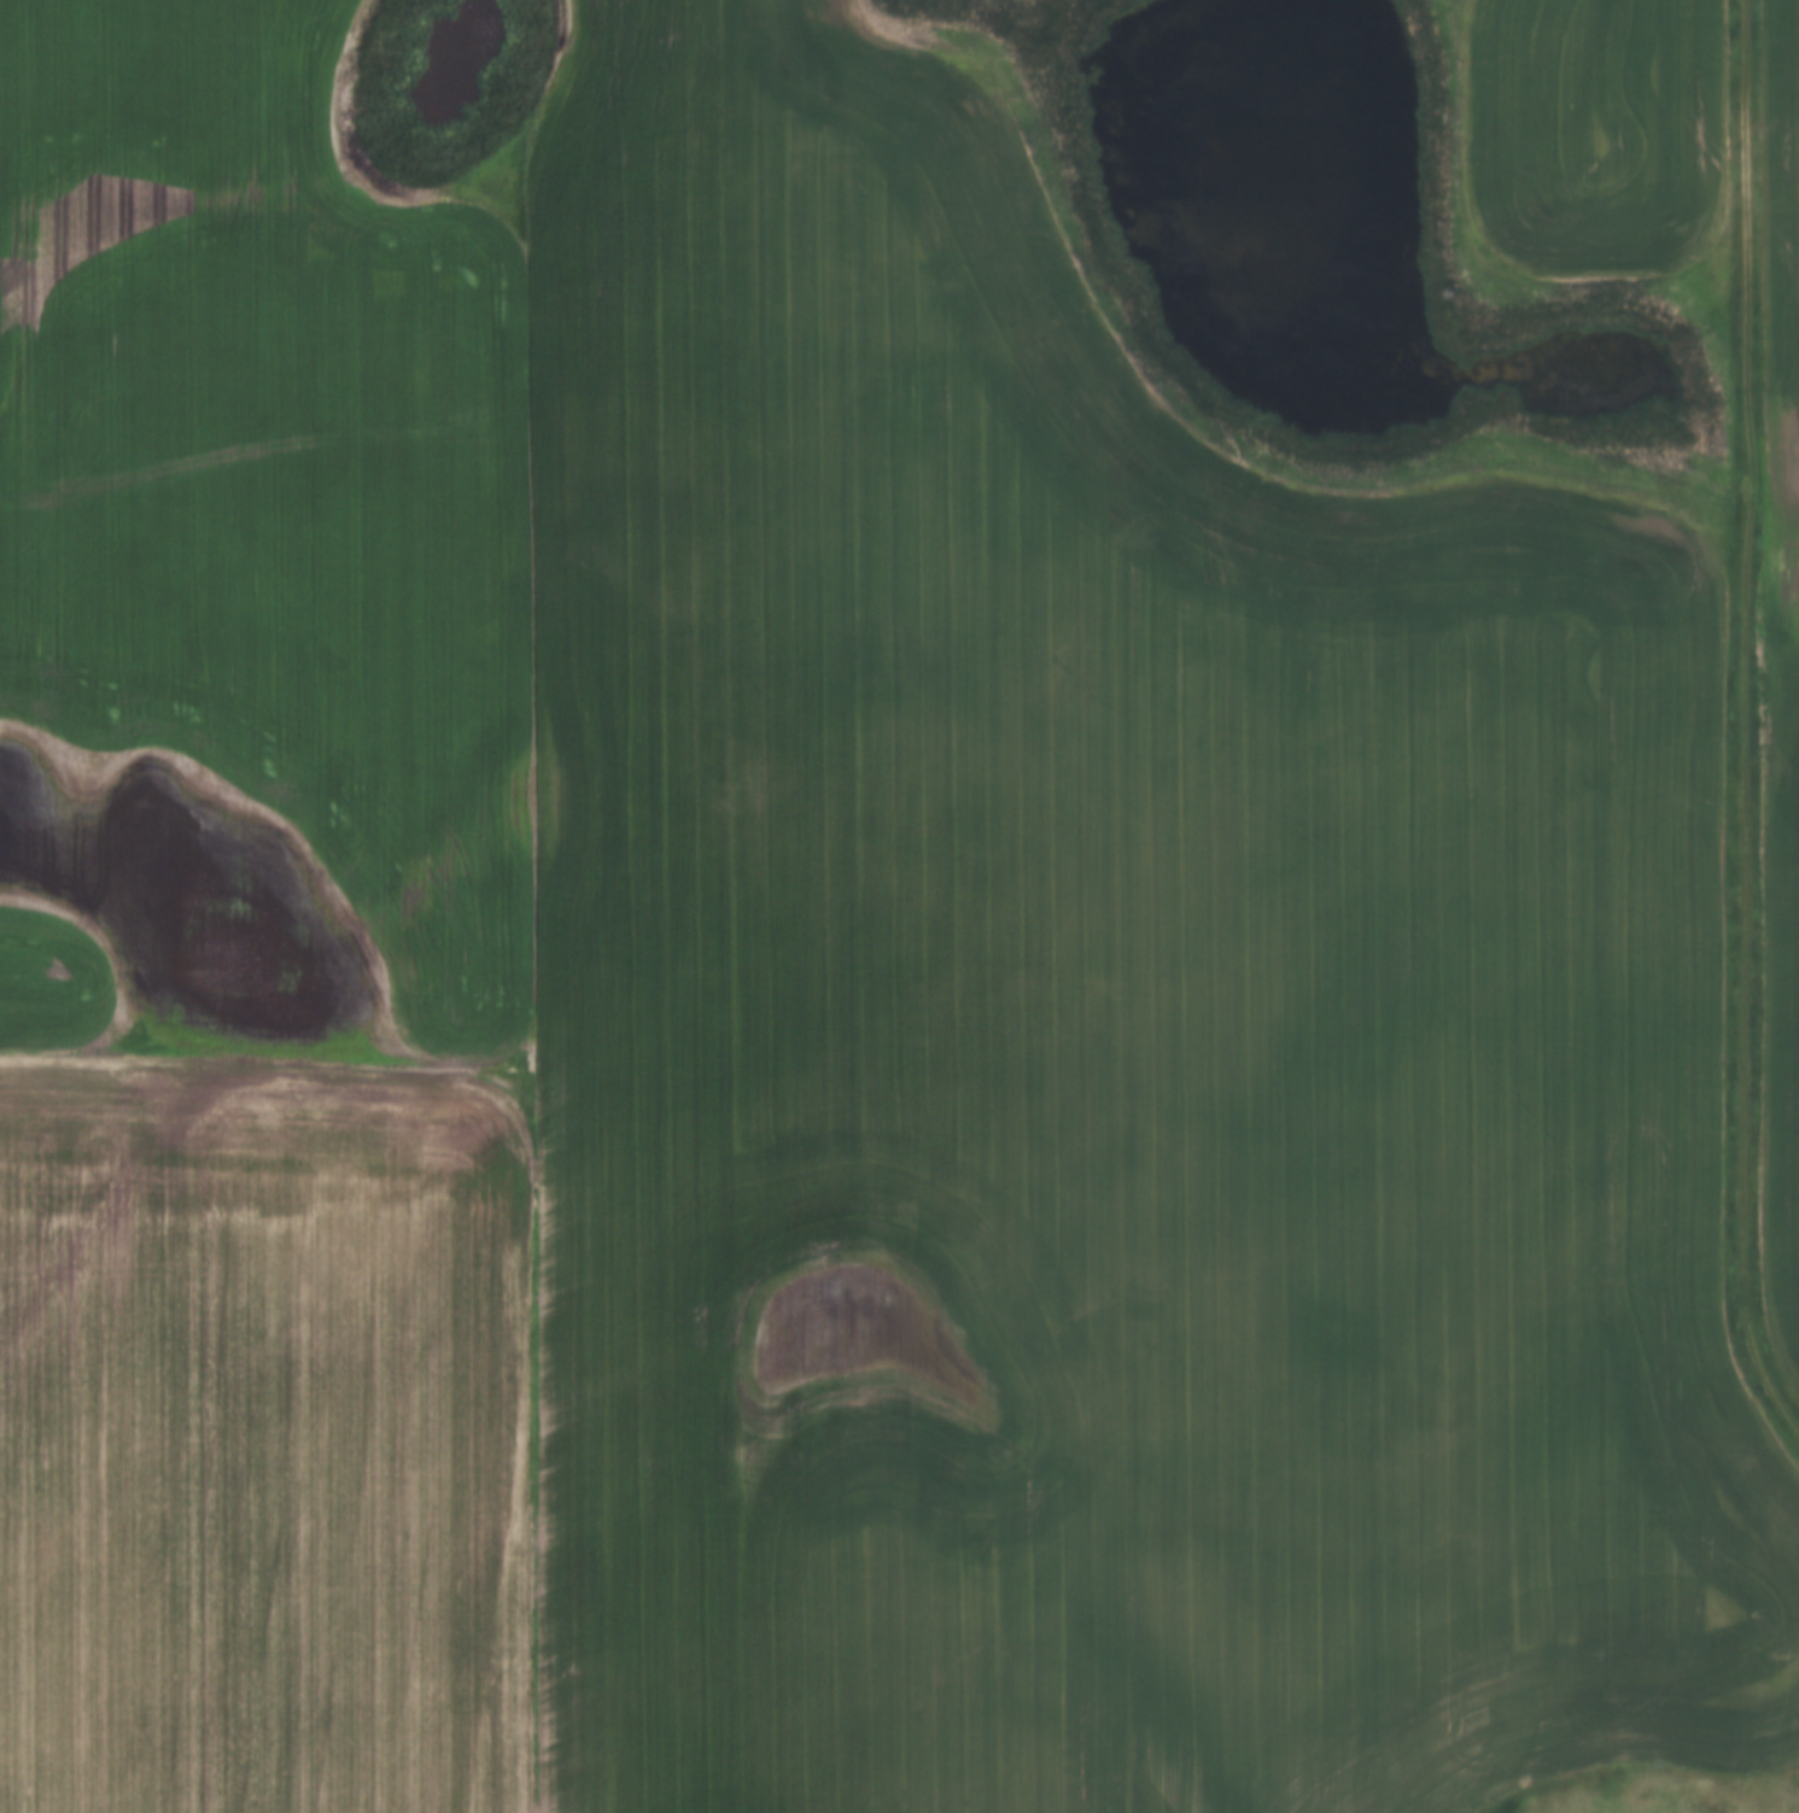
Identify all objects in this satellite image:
road: (1745, 720)

